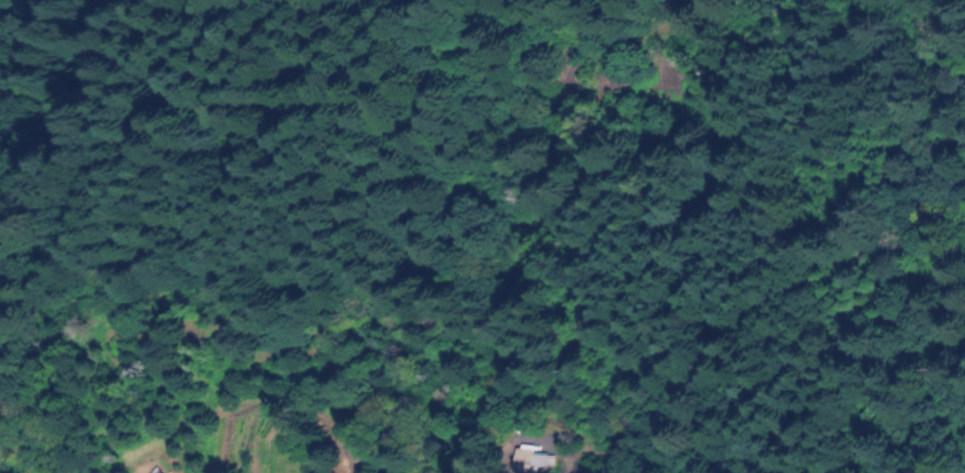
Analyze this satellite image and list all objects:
road: (823, 315)
building: (540, 464)
building: (160, 472)

